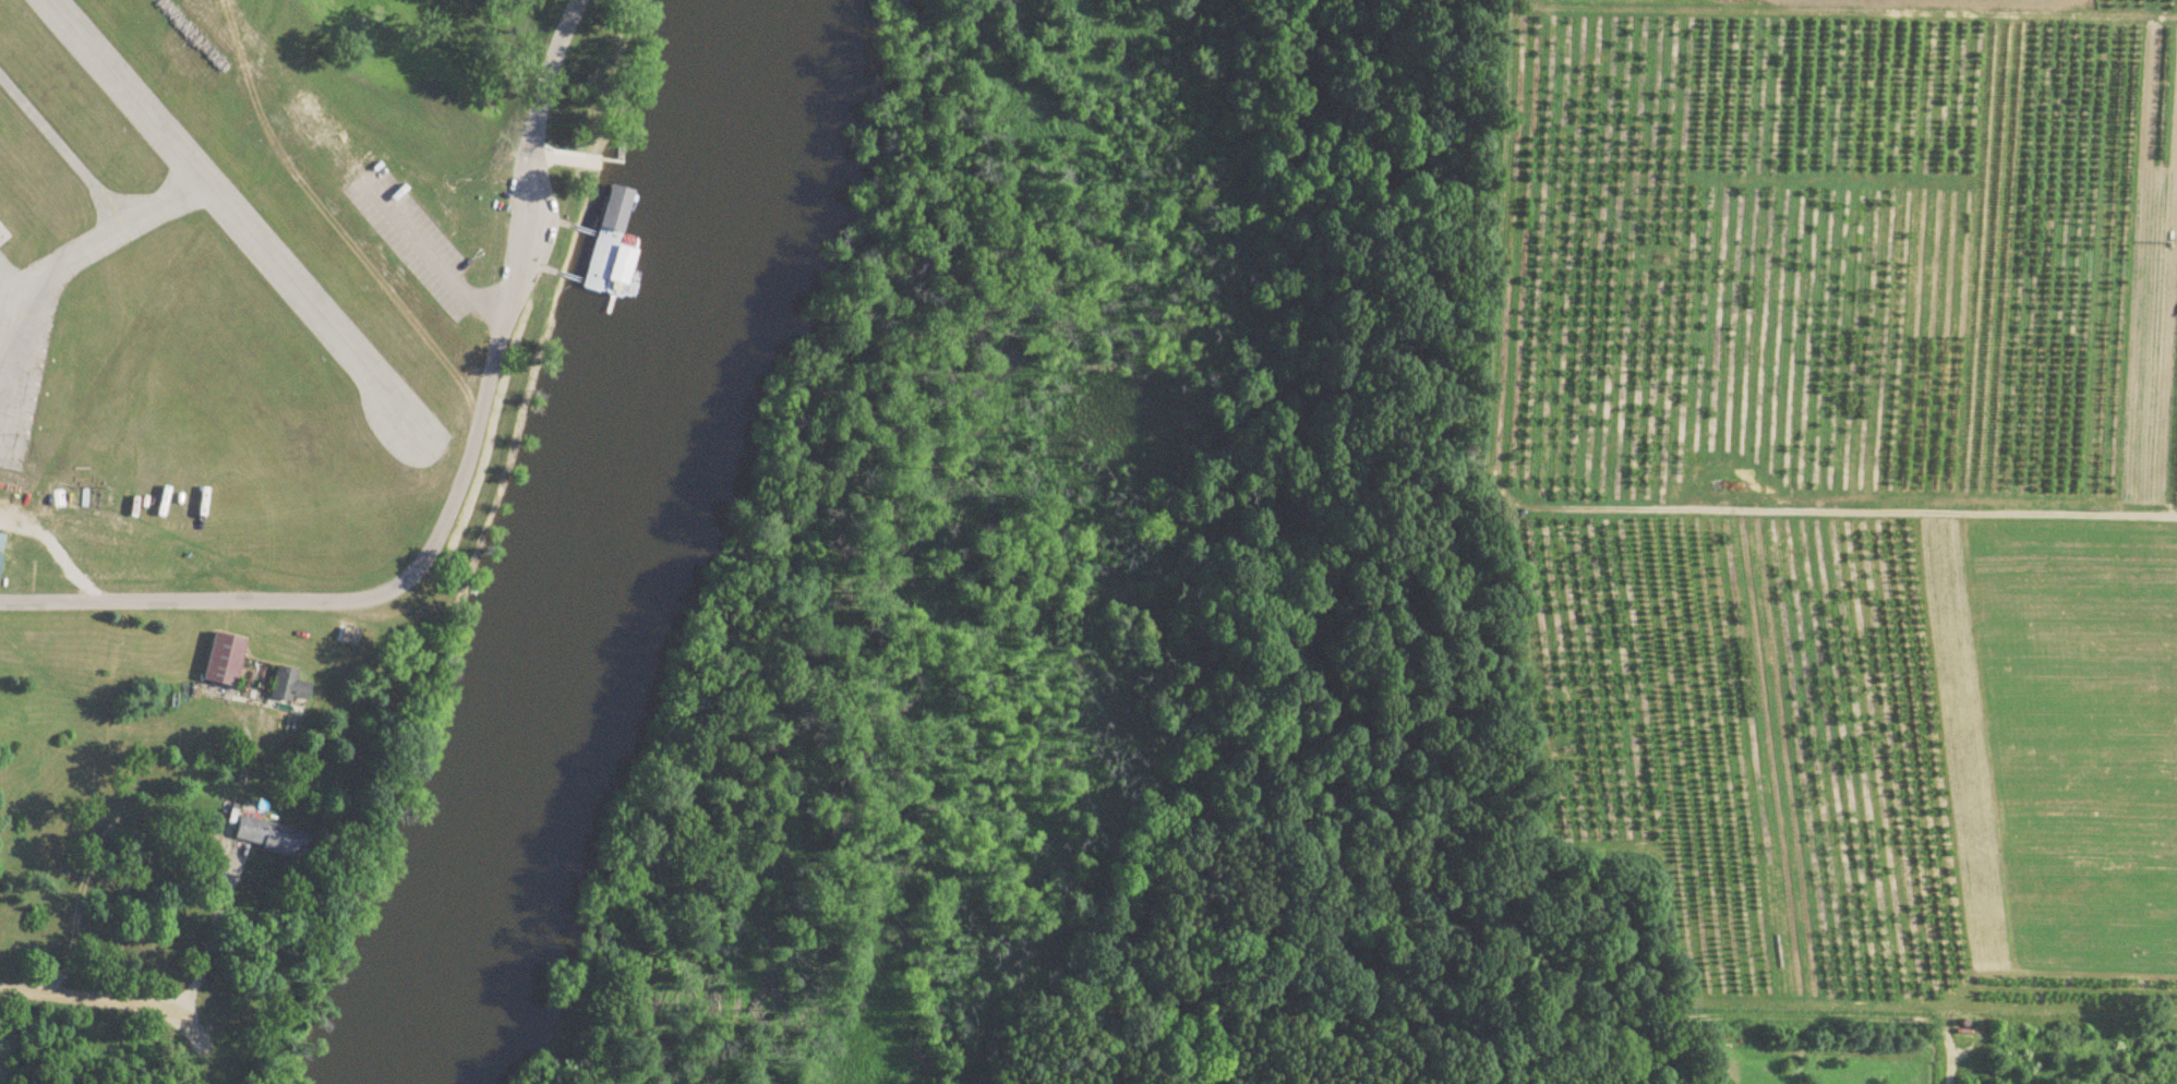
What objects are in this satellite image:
airport taxiway: (153, 234)
road: (432, 255)
building: (601, 261)
airport apron: (24, 346)
airport runway: (419, 468)
crop: (1850, 482)
road: (457, 497)
road: (1746, 515)
building: (1, 541)
river: (596, 544)
road: (57, 549)
building: (0, 556)
building: (349, 637)
building: (225, 661)
road: (258, 674)
building: (289, 687)
building: (272, 838)
road: (212, 940)
road: (86, 998)
road: (1950, 1071)
park: (7, 1075)

